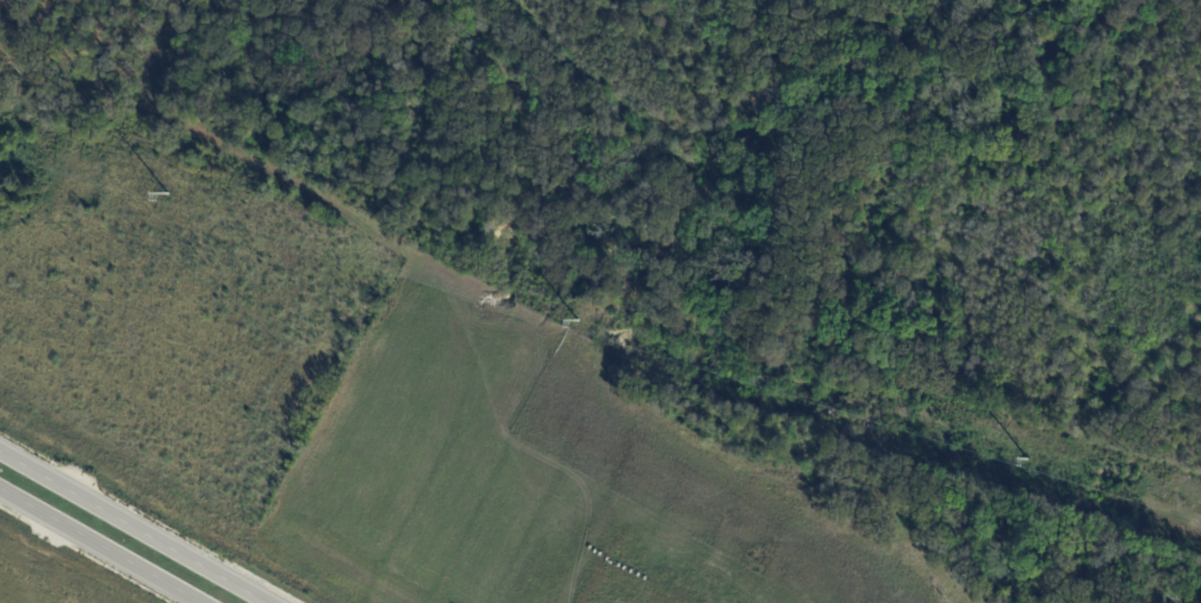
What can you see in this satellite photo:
road: (135, 527)
road: (99, 547)

